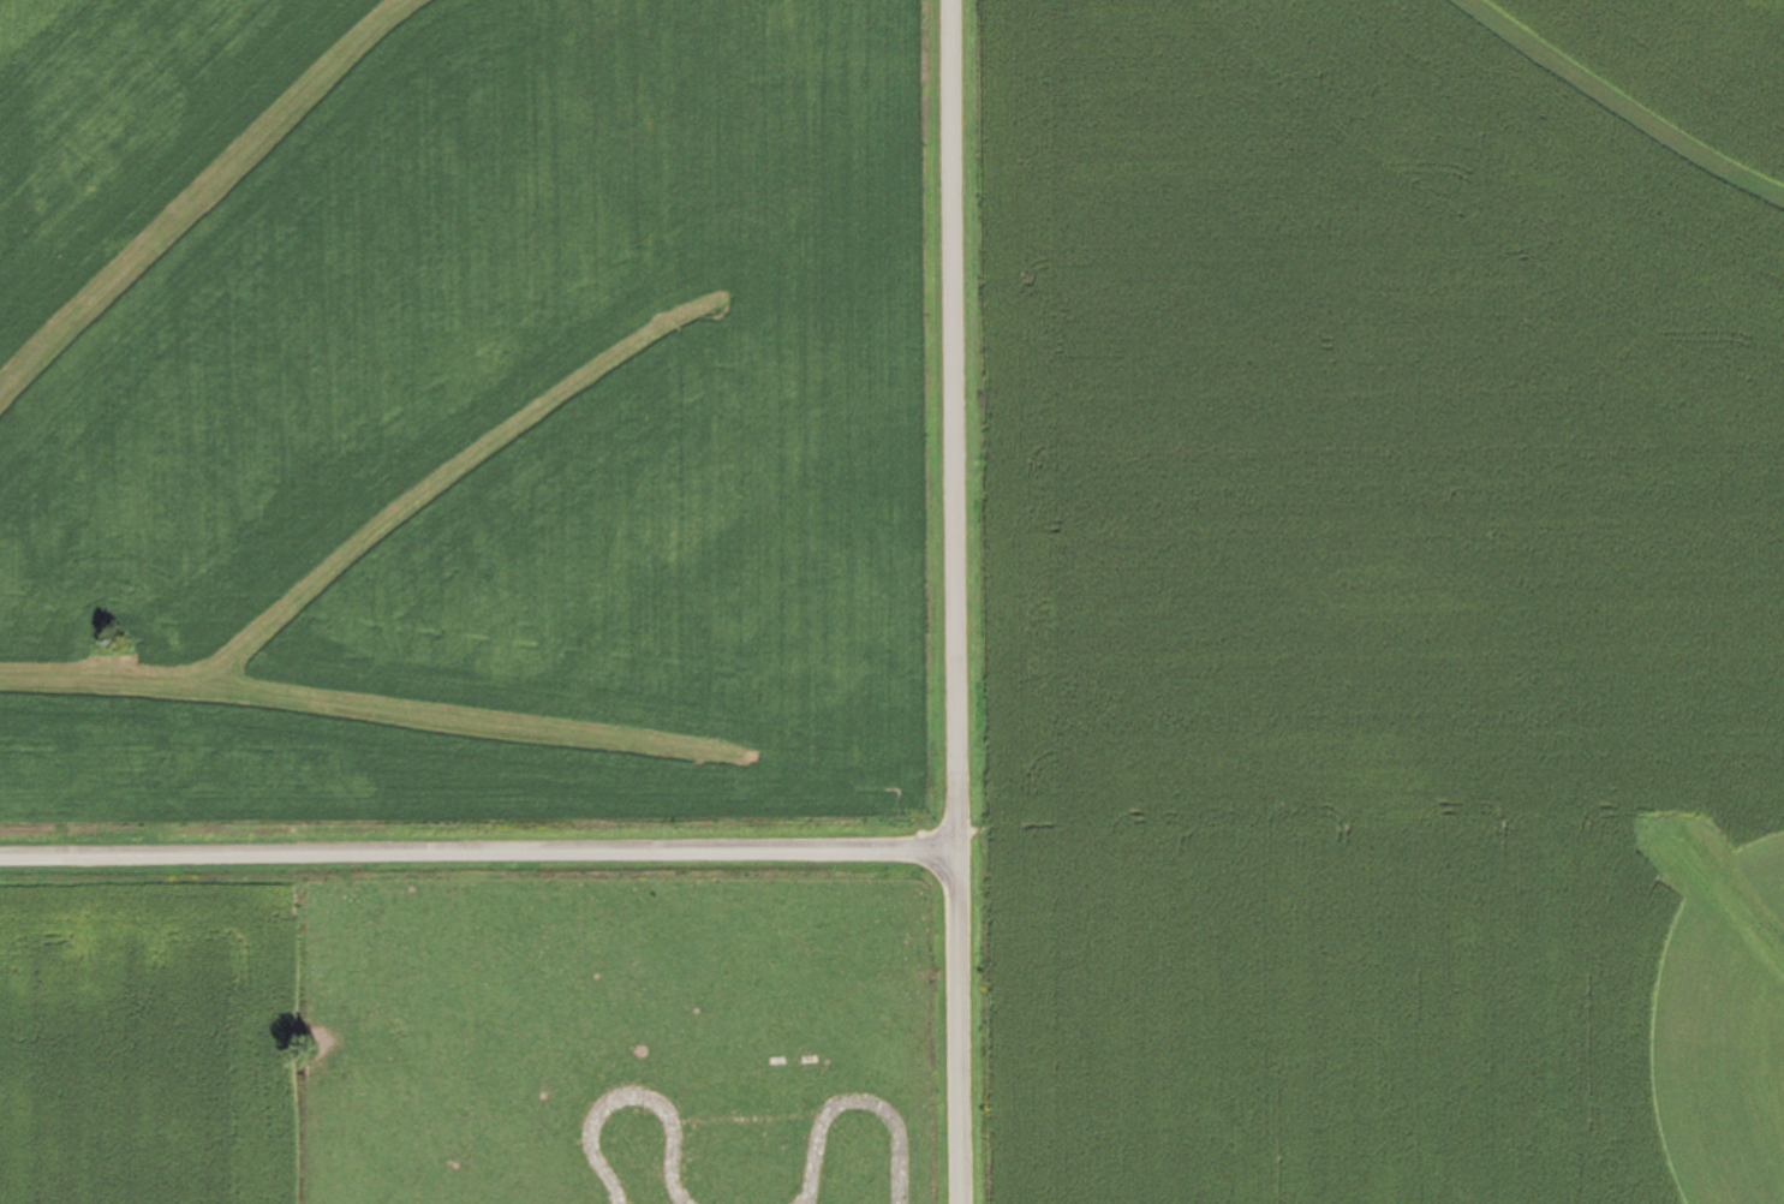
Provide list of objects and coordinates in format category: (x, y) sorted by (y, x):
road: (941, 428)
road: (472, 857)
road: (948, 1030)

